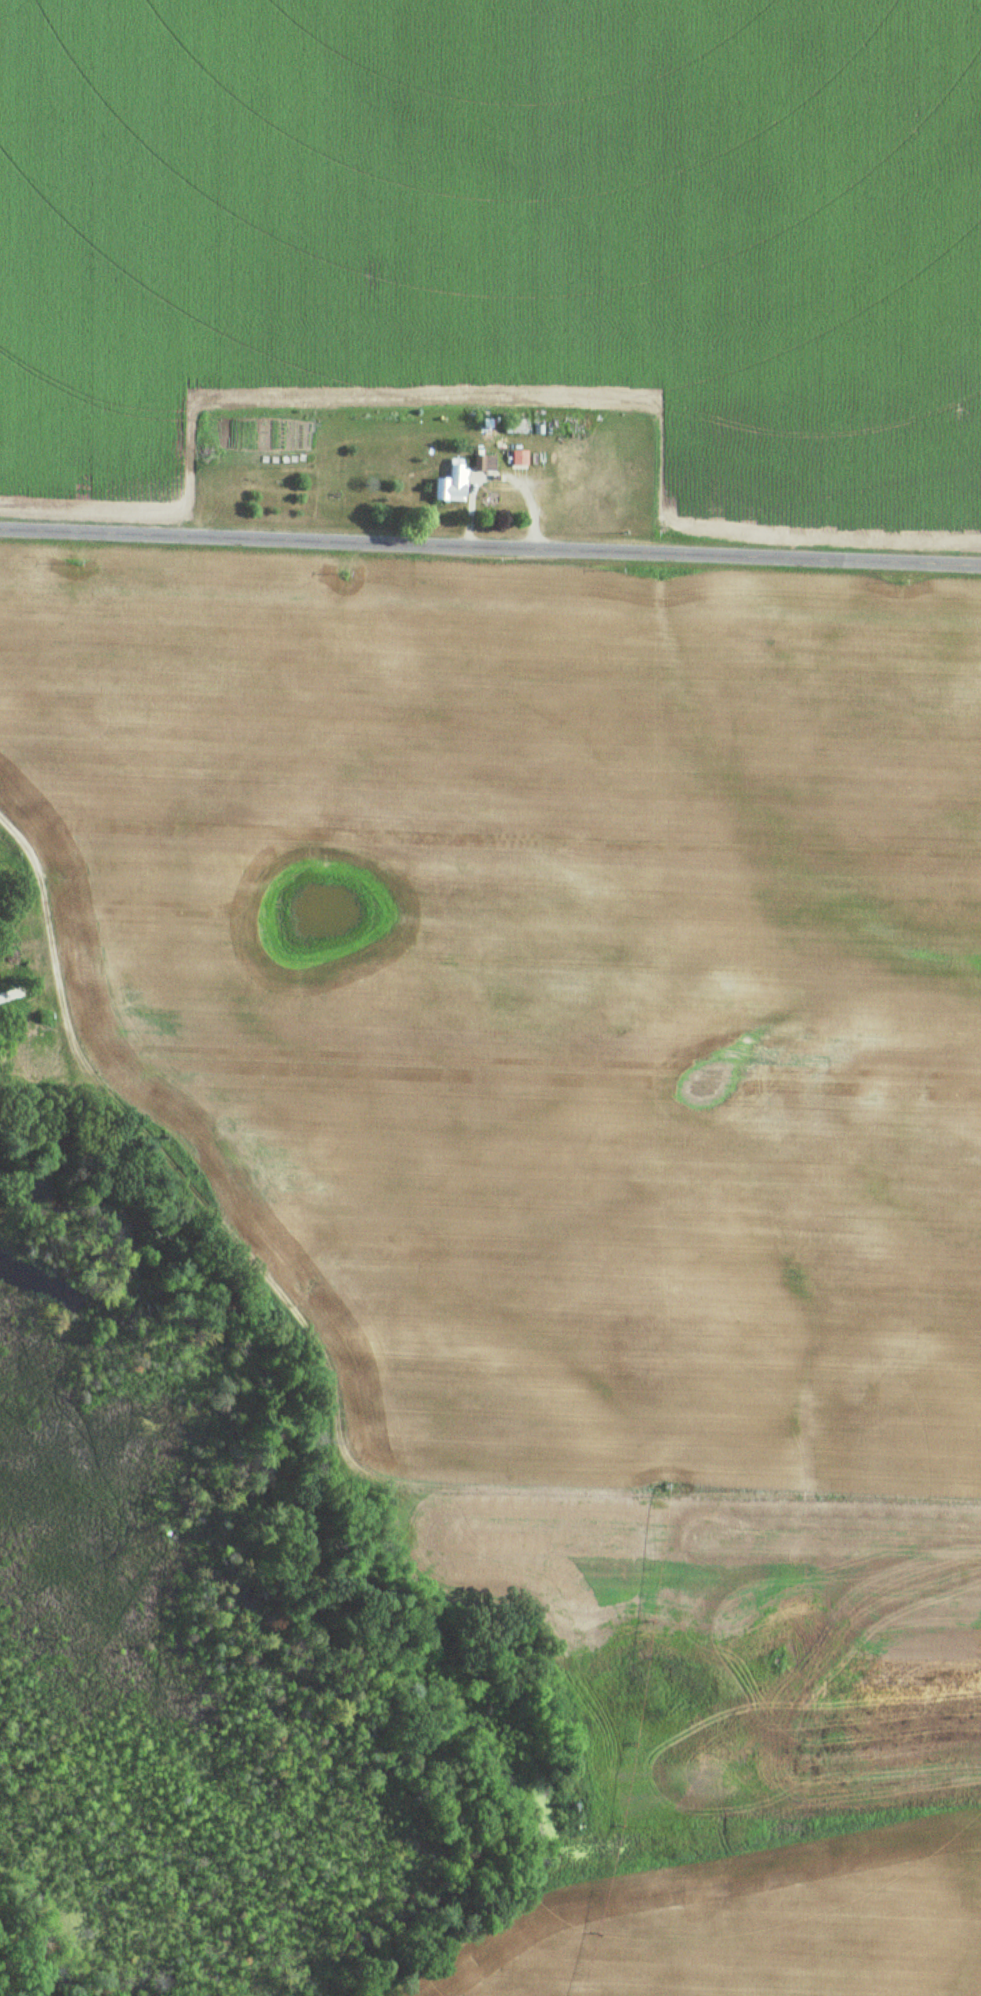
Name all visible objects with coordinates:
building: (509, 433)
building: (479, 464)
building: (446, 485)
road: (490, 546)
road: (428, 1171)

